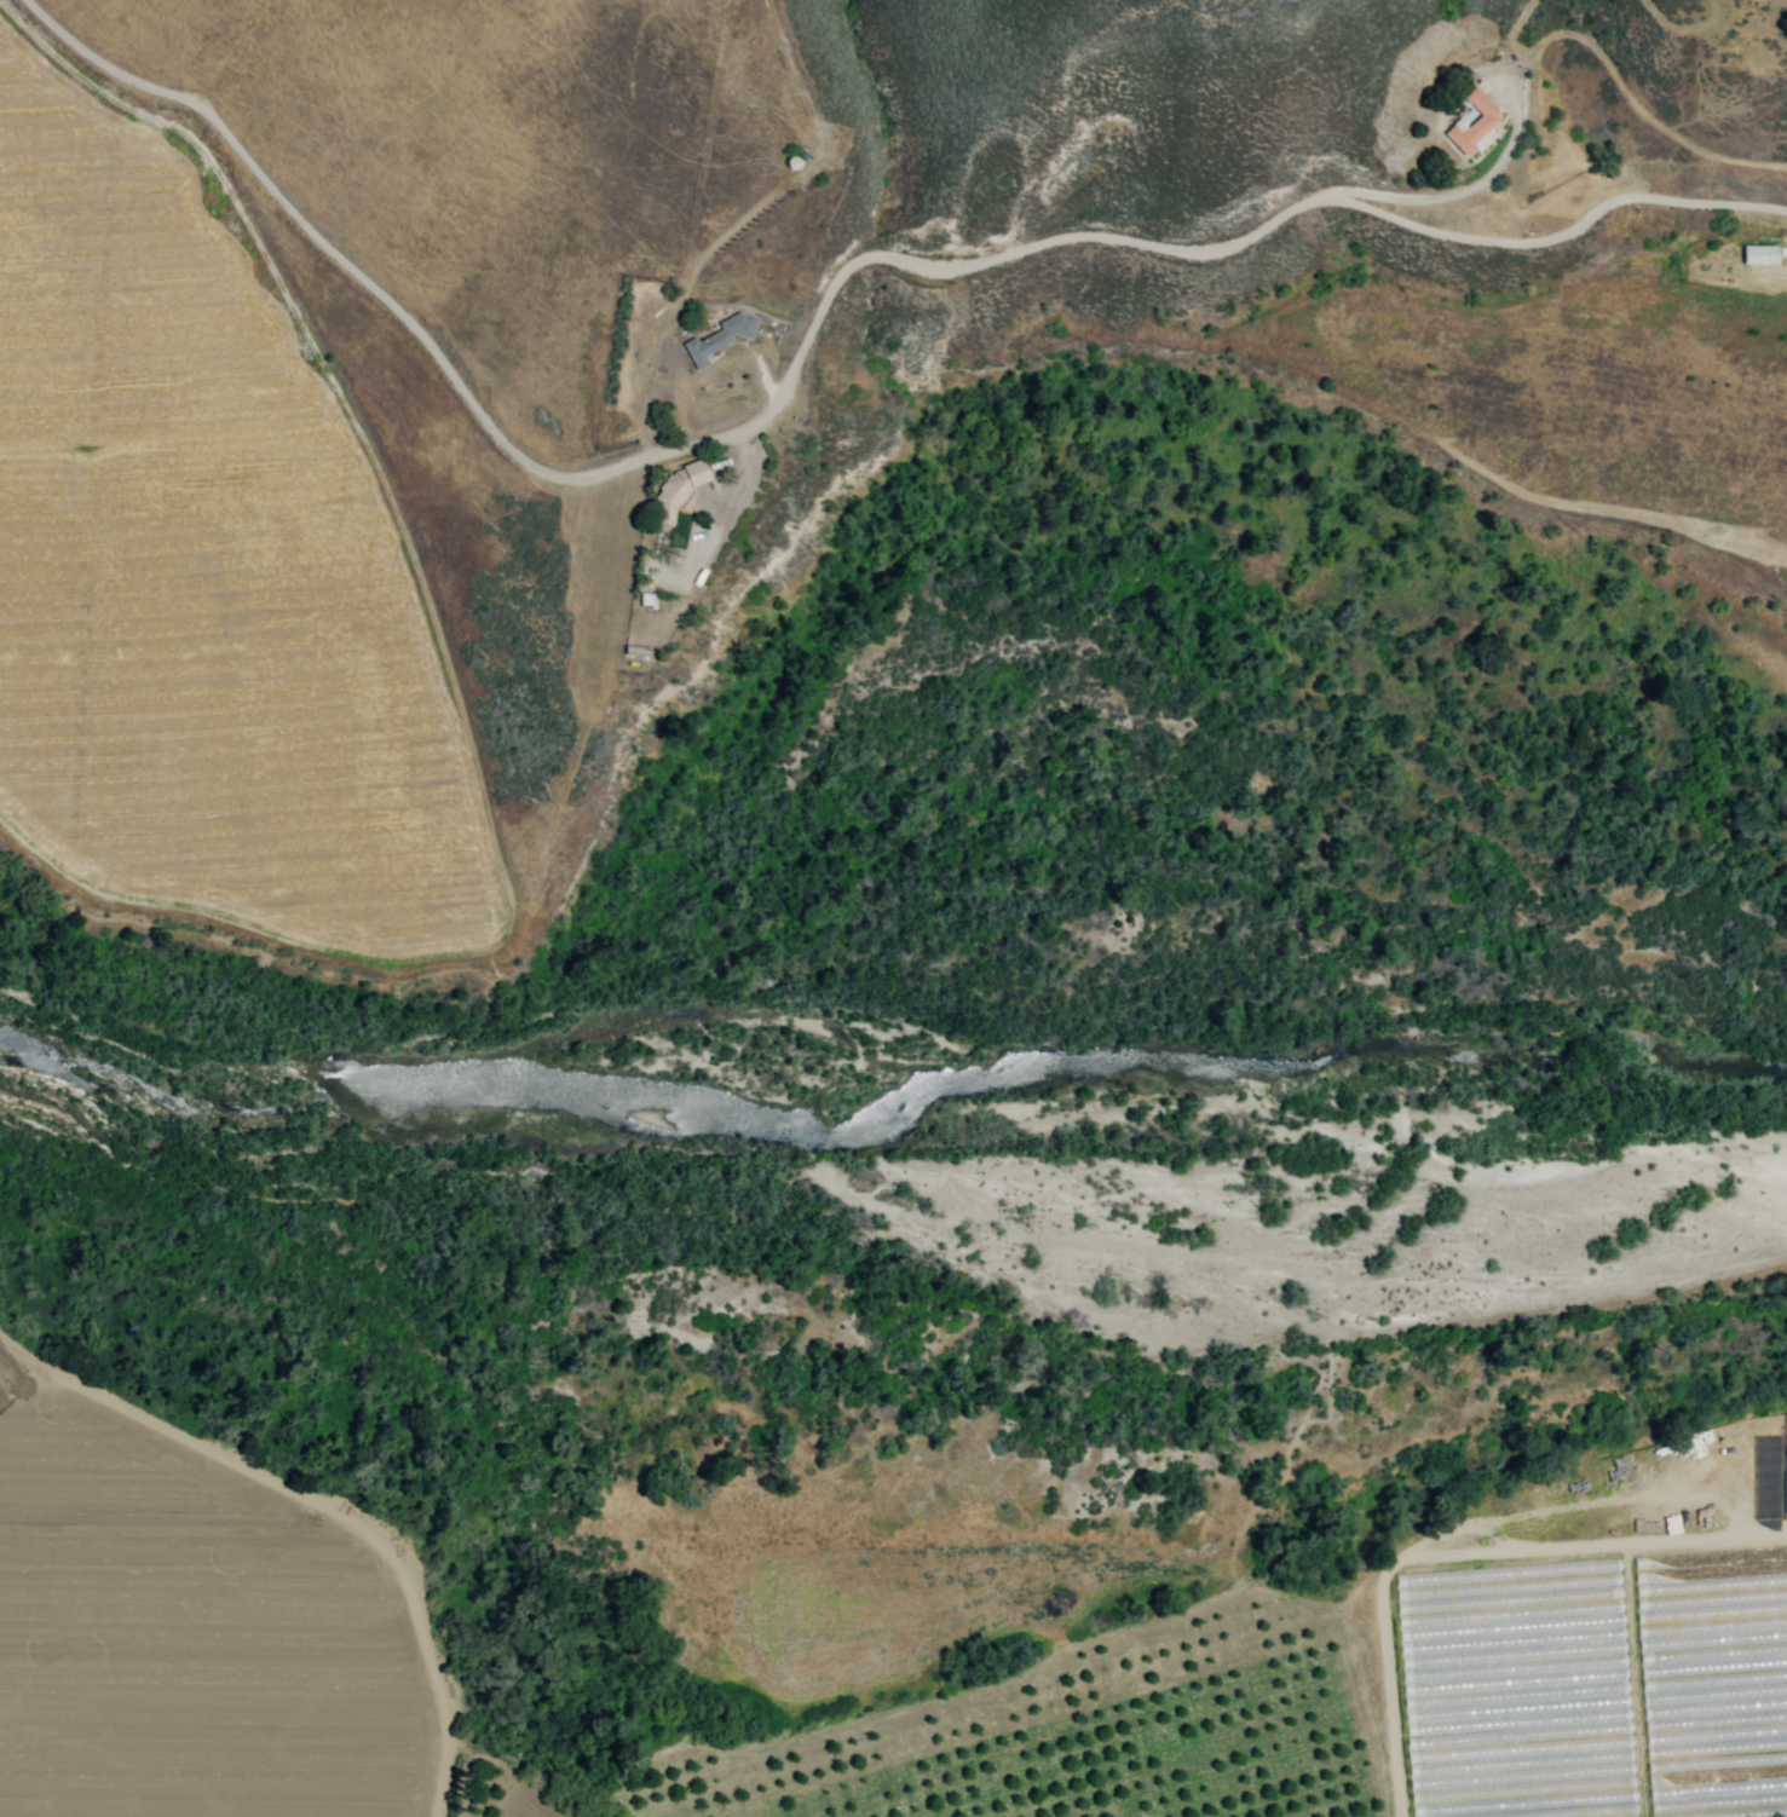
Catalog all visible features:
building: (1472, 120)
building: (1759, 254)
road: (808, 336)
building: (717, 338)
crop: (1606, 387)
crop: (212, 543)
river: (884, 1109)
crop: (208, 1627)
crop: (1279, 1665)

